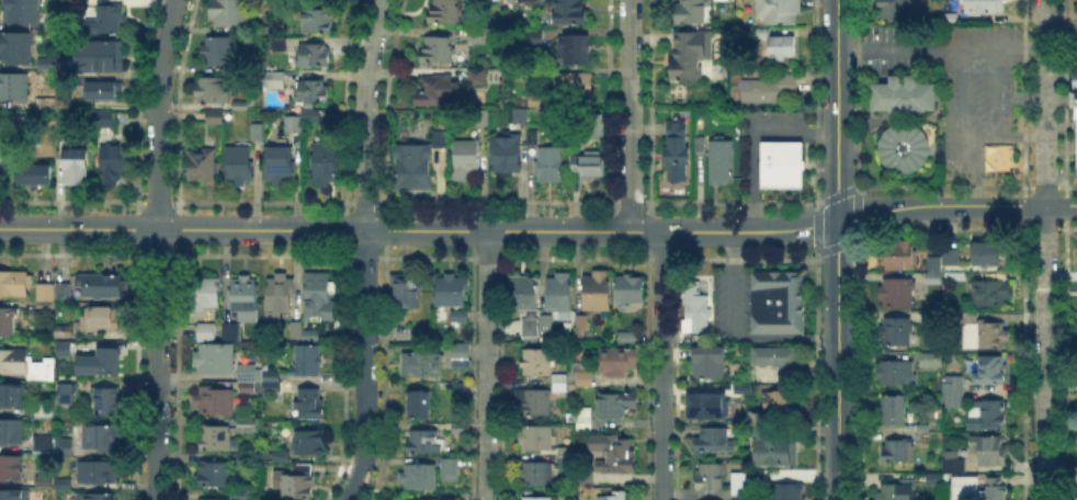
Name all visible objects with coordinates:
building: (530, 1)
building: (81, 2)
building: (983, 8)
building: (892, 10)
building: (780, 11)
building: (24, 12)
building: (570, 12)
building: (444, 13)
building: (694, 13)
building: (235, 14)
building: (109, 21)
building: (318, 22)
building: (54, 25)
building: (538, 35)
building: (476, 36)
building: (281, 44)
building: (778, 44)
road: (900, 44)
road: (1004, 44)
building: (18, 49)
building: (438, 50)
building: (579, 50)
building: (222, 52)
building: (107, 57)
building: (316, 57)
building: (687, 59)
building: (50, 61)
building: (478, 78)
building: (274, 82)
building: (576, 86)
building: (14, 89)
building: (214, 89)
building: (767, 89)
building: (1074, 90)
building: (314, 91)
building: (107, 92)
building: (438, 92)
building: (905, 96)
parking lot: (982, 102)
road: (1045, 102)
building: (240, 103)
road: (838, 110)
building: (311, 115)
road: (630, 115)
building: (520, 117)
building: (214, 118)
parking lot: (771, 118)
building: (100, 120)
building: (292, 126)
building: (258, 132)
road: (1019, 135)
road: (752, 136)
building: (441, 139)
building: (700, 144)
building: (902, 145)
road: (977, 151)
building: (1076, 151)
building: (678, 154)
building: (508, 157)
building: (4, 161)
building: (467, 161)
building: (585, 161)
building: (202, 163)
building: (721, 163)
building: (779, 163)
building: (113, 164)
building: (548, 164)
building: (240, 166)
building: (325, 166)
building: (280, 167)
building: (77, 168)
building: (413, 170)
road: (973, 178)
building: (38, 179)
road: (956, 205)
traffic signals: (838, 220)
road: (419, 230)
road: (158, 249)
road: (365, 250)
building: (900, 254)
building: (987, 255)
building: (951, 257)
building: (931, 262)
building: (15, 283)
building: (104, 285)
building: (64, 287)
building: (630, 291)
building: (206, 292)
building: (453, 292)
building: (407, 293)
building: (45, 294)
building: (560, 294)
building: (599, 294)
building: (900, 294)
building: (989, 294)
building: (280, 295)
building: (526, 295)
building: (246, 297)
building: (321, 297)
parking lot: (729, 297)
building: (775, 300)
building: (696, 312)
building: (461, 317)
building: (104, 319)
building: (296, 321)
building: (8, 325)
building: (582, 325)
building: (971, 328)
building: (531, 329)
building: (207, 330)
building: (231, 331)
building: (310, 333)
building: (418, 334)
building: (899, 334)
building: (990, 334)
building: (624, 336)
road: (732, 336)
road: (1045, 352)
building: (65, 354)
building: (461, 354)
building: (578, 354)
building: (216, 359)
building: (781, 359)
building: (932, 359)
road: (838, 360)
building: (308, 362)
building: (14, 363)
building: (110, 363)
building: (617, 363)
building: (538, 364)
road: (488, 365)
road: (662, 365)
building: (710, 365)
building: (423, 366)
building: (248, 368)
building: (43, 370)
building: (993, 373)
building: (272, 374)
building: (897, 374)
building: (586, 379)
building: (248, 385)
building: (559, 385)
building: (283, 386)
building: (740, 388)
building: (462, 391)
building: (69, 393)
building: (954, 393)
building: (13, 396)
building: (215, 402)
building: (537, 402)
building: (105, 404)
building: (780, 404)
building: (420, 405)
building: (309, 407)
building: (615, 407)
building: (712, 407)
building: (894, 412)
building: (990, 414)
building: (585, 419)
building: (756, 421)
building: (248, 425)
building: (461, 425)
building: (13, 432)
building: (762, 433)
building: (103, 438)
building: (537, 439)
building: (215, 441)
building: (423, 442)
building: (713, 442)
building: (311, 443)
building: (42, 444)
building: (64, 445)
building: (989, 451)
building: (899, 452)
building: (774, 454)
building: (614, 455)
building: (567, 456)
building: (950, 459)
building: (956, 466)
building: (304, 468)
building: (11, 469)
building: (451, 469)
building: (99, 471)
building: (214, 476)
building: (535, 476)
building: (586, 476)
building: (710, 478)
building: (933, 478)
building: (420, 479)
building: (739, 484)
building: (298, 487)
building: (963, 488)
building: (996, 488)
building: (791, 492)
building: (896, 492)
building: (92, 495)
building: (462, 495)
building: (14, 496)
building: (617, 497)
building: (739, 497)
building: (211, 498)
building: (422, 499)
building: (537, 499)

